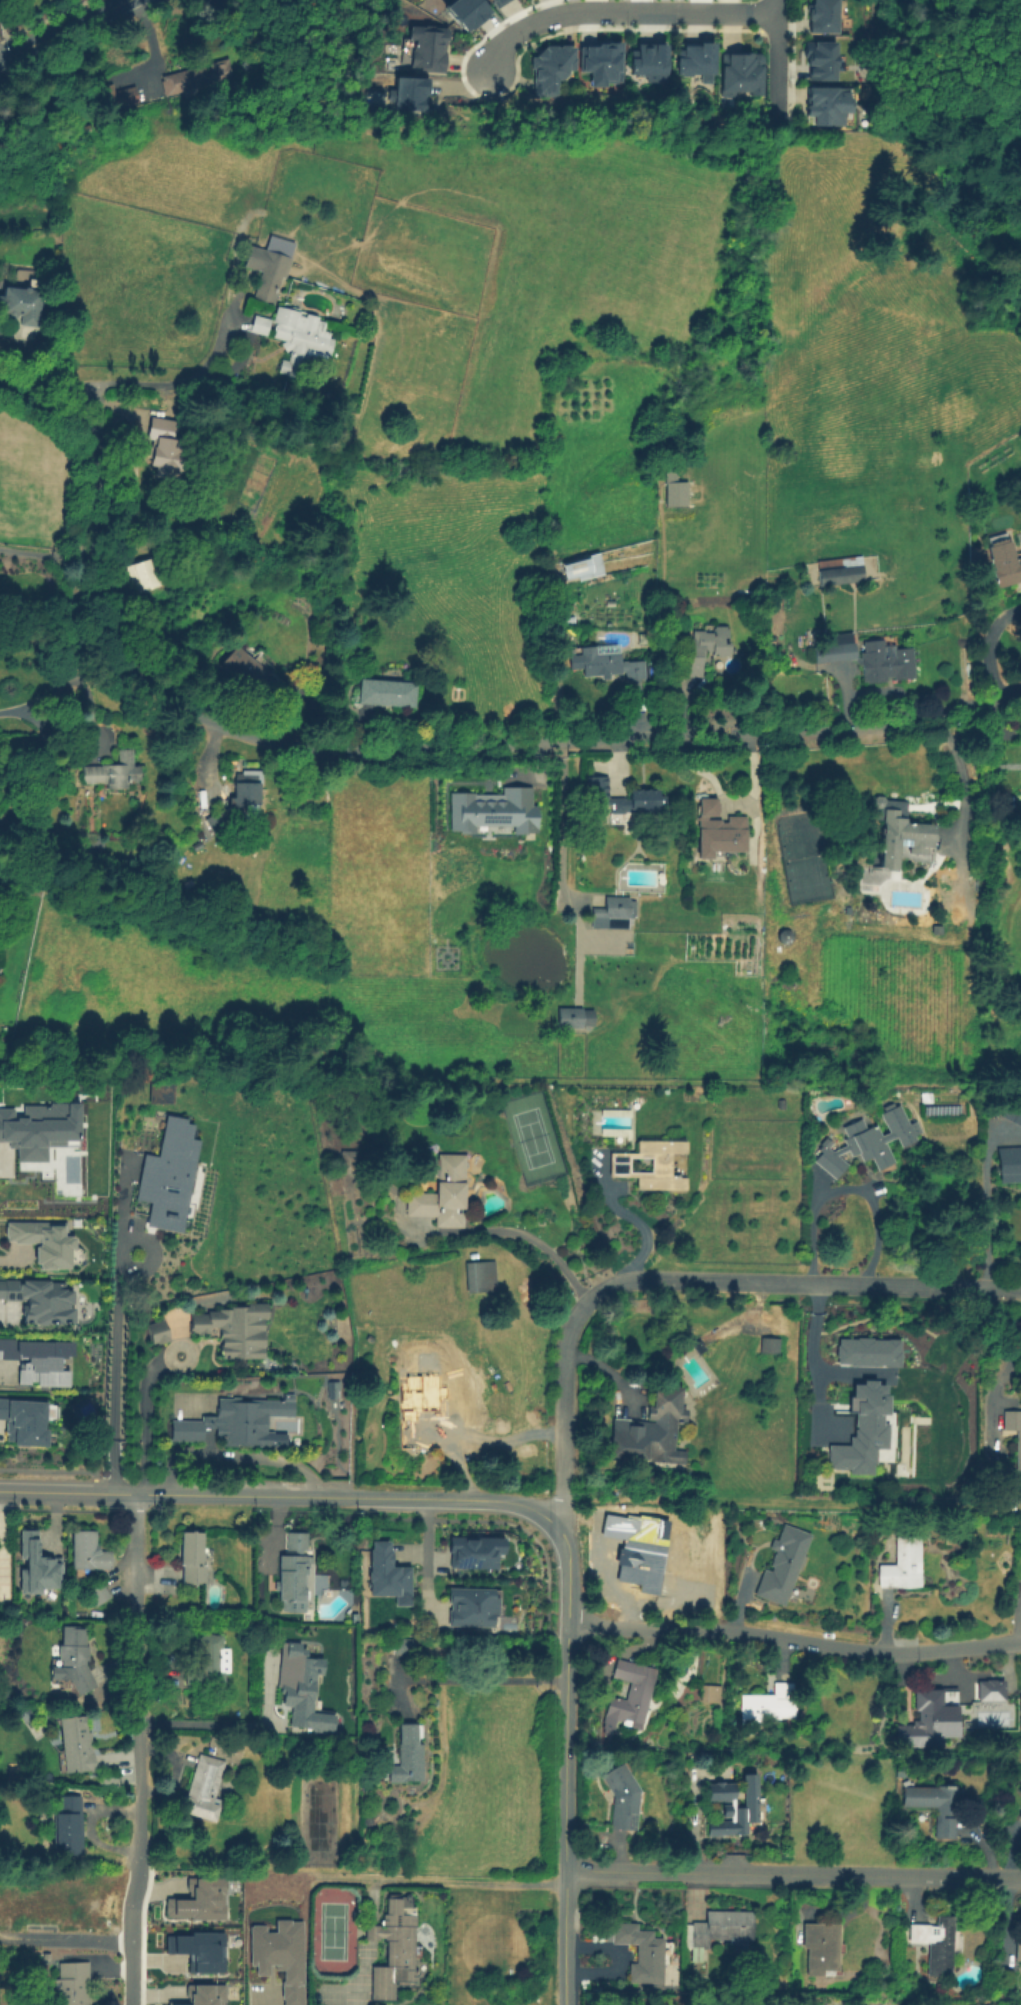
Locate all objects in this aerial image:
building: (489, 0)
building: (498, 2)
road: (783, 6)
road: (627, 11)
building: (465, 12)
building: (821, 16)
road: (61, 29)
road: (150, 39)
building: (432, 47)
building: (697, 59)
building: (819, 60)
building: (648, 61)
building: (601, 62)
building: (551, 68)
road: (782, 72)
building: (744, 73)
building: (196, 77)
building: (406, 92)
building: (113, 96)
building: (830, 102)
building: (268, 272)
building: (22, 302)
building: (45, 313)
building: (259, 325)
building: (300, 340)
road: (133, 387)
building: (167, 448)
building: (678, 495)
road: (46, 554)
building: (1004, 564)
building: (584, 569)
building: (840, 571)
building: (147, 573)
building: (569, 619)
road: (985, 644)
building: (705, 648)
building: (870, 658)
building: (609, 664)
building: (253, 676)
building: (387, 692)
road: (30, 702)
road: (56, 708)
road: (34, 721)
road: (384, 751)
building: (113, 771)
road: (958, 777)
building: (642, 792)
building: (239, 802)
road: (726, 802)
building: (709, 808)
building: (491, 809)
building: (902, 832)
building: (724, 837)
building: (92, 841)
building: (197, 845)
building: (947, 899)
building: (614, 913)
building: (1020, 997)
building: (572, 1017)
building: (162, 1090)
building: (782, 1104)
building: (1018, 1117)
building: (38, 1128)
park: (531, 1137)
building: (869, 1141)
building: (348, 1161)
building: (1010, 1163)
building: (654, 1164)
building: (171, 1176)
road: (844, 1187)
building: (442, 1191)
road: (636, 1222)
road: (984, 1223)
road: (524, 1234)
building: (41, 1240)
road: (5, 1268)
building: (481, 1277)
road: (688, 1280)
building: (37, 1299)
building: (237, 1332)
building: (159, 1334)
road: (114, 1335)
building: (769, 1345)
building: (698, 1348)
road: (809, 1350)
building: (868, 1350)
building: (36, 1359)
building: (424, 1396)
building: (23, 1419)
building: (238, 1423)
building: (1014, 1426)
road: (147, 1428)
building: (862, 1430)
building: (652, 1435)
building: (410, 1438)
road: (239, 1455)
building: (1018, 1466)
road: (67, 1492)
building: (296, 1541)
road: (425, 1547)
building: (87, 1551)
road: (565, 1551)
building: (641, 1551)
building: (477, 1552)
building: (191, 1557)
building: (37, 1565)
building: (783, 1565)
building: (902, 1565)
building: (391, 1573)
building: (292, 1576)
building: (97, 1593)
building: (476, 1607)
road: (793, 1640)
building: (404, 1646)
building: (73, 1659)
building: (207, 1662)
building: (980, 1675)
road: (470, 1676)
road: (137, 1682)
building: (294, 1690)
building: (987, 1690)
building: (632, 1692)
building: (710, 1693)
building: (766, 1705)
building: (987, 1715)
building: (926, 1719)
road: (206, 1723)
building: (75, 1744)
building: (407, 1755)
building: (900, 1774)
building: (201, 1789)
building: (623, 1798)
building: (734, 1807)
building: (936, 1807)
building: (67, 1824)
road: (792, 1873)
road: (445, 1879)
building: (70, 1899)
building: (196, 1900)
building: (8, 1909)
park: (332, 1931)
building: (718, 1931)
road: (371, 1933)
road: (132, 1938)
road: (66, 1940)
building: (934, 1944)
building: (818, 1947)
building: (394, 1948)
building: (197, 1950)
building: (1018, 1950)
building: (641, 1953)
building: (277, 1956)
road: (360, 1970)
building: (71, 1984)
building: (981, 1990)
building: (199, 1994)

